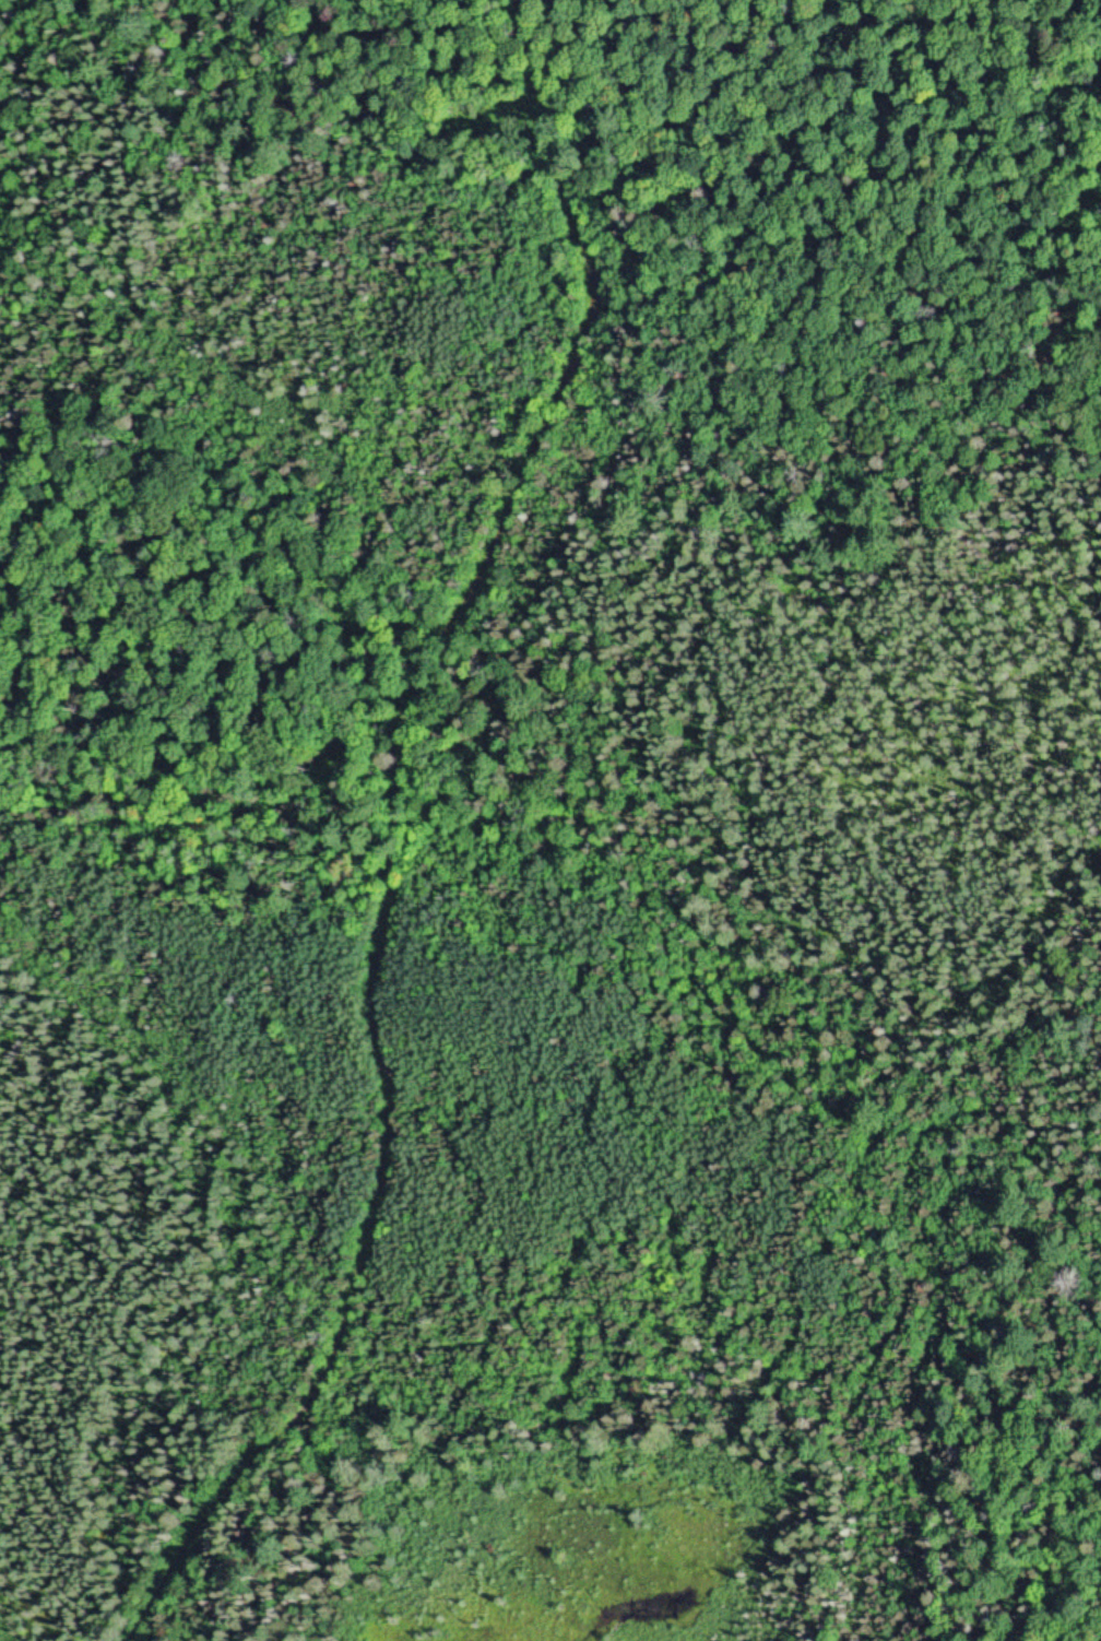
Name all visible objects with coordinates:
road: (364, 829)

